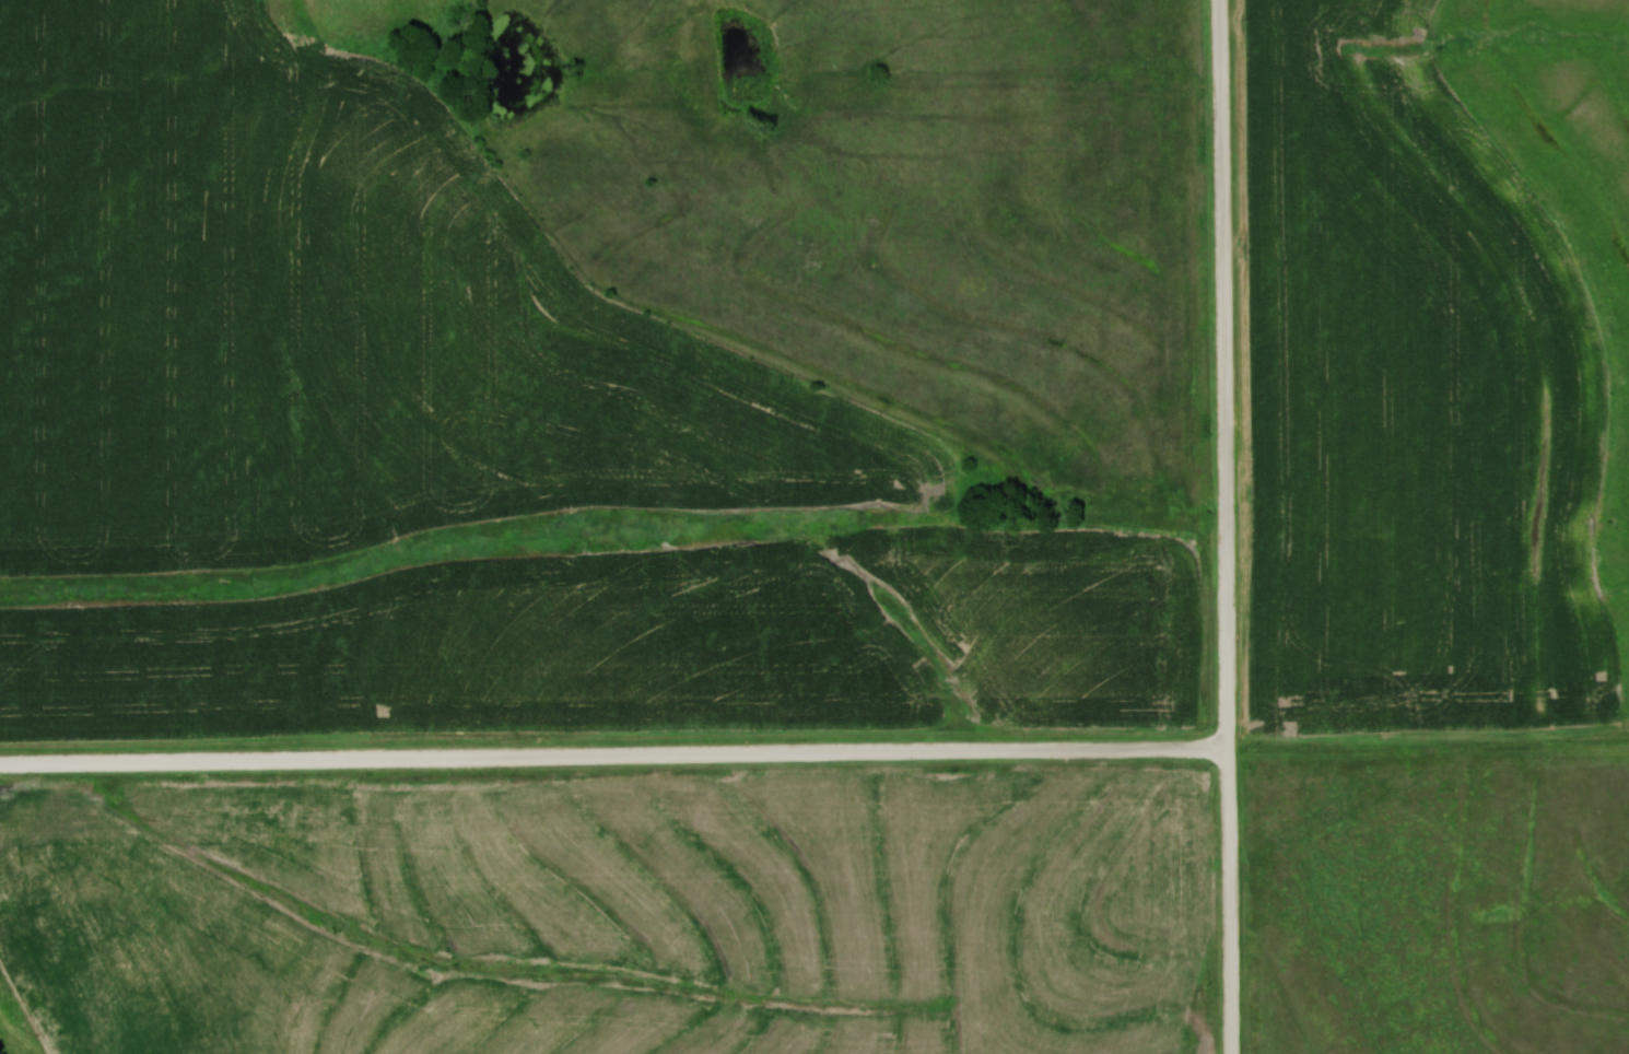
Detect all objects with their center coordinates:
road: (1228, 526)
road: (616, 759)

